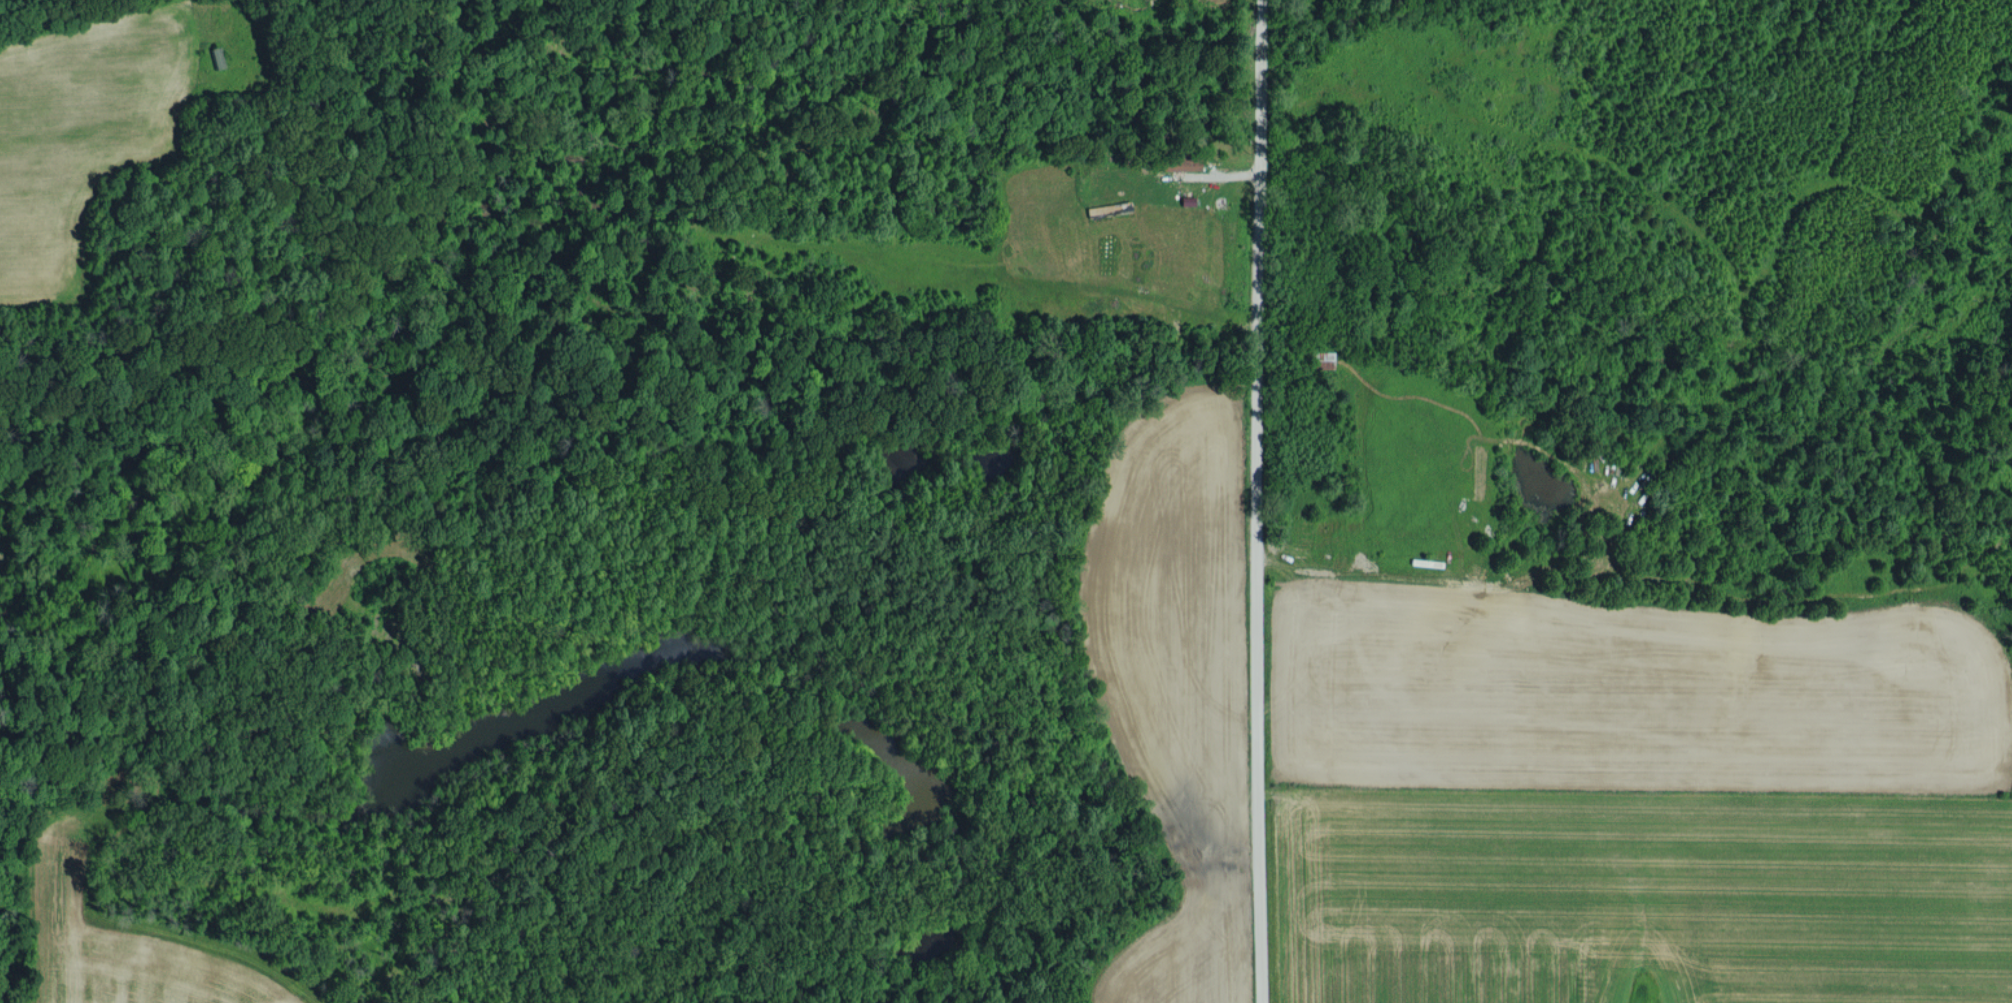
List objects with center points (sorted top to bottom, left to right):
road: (1260, 501)

